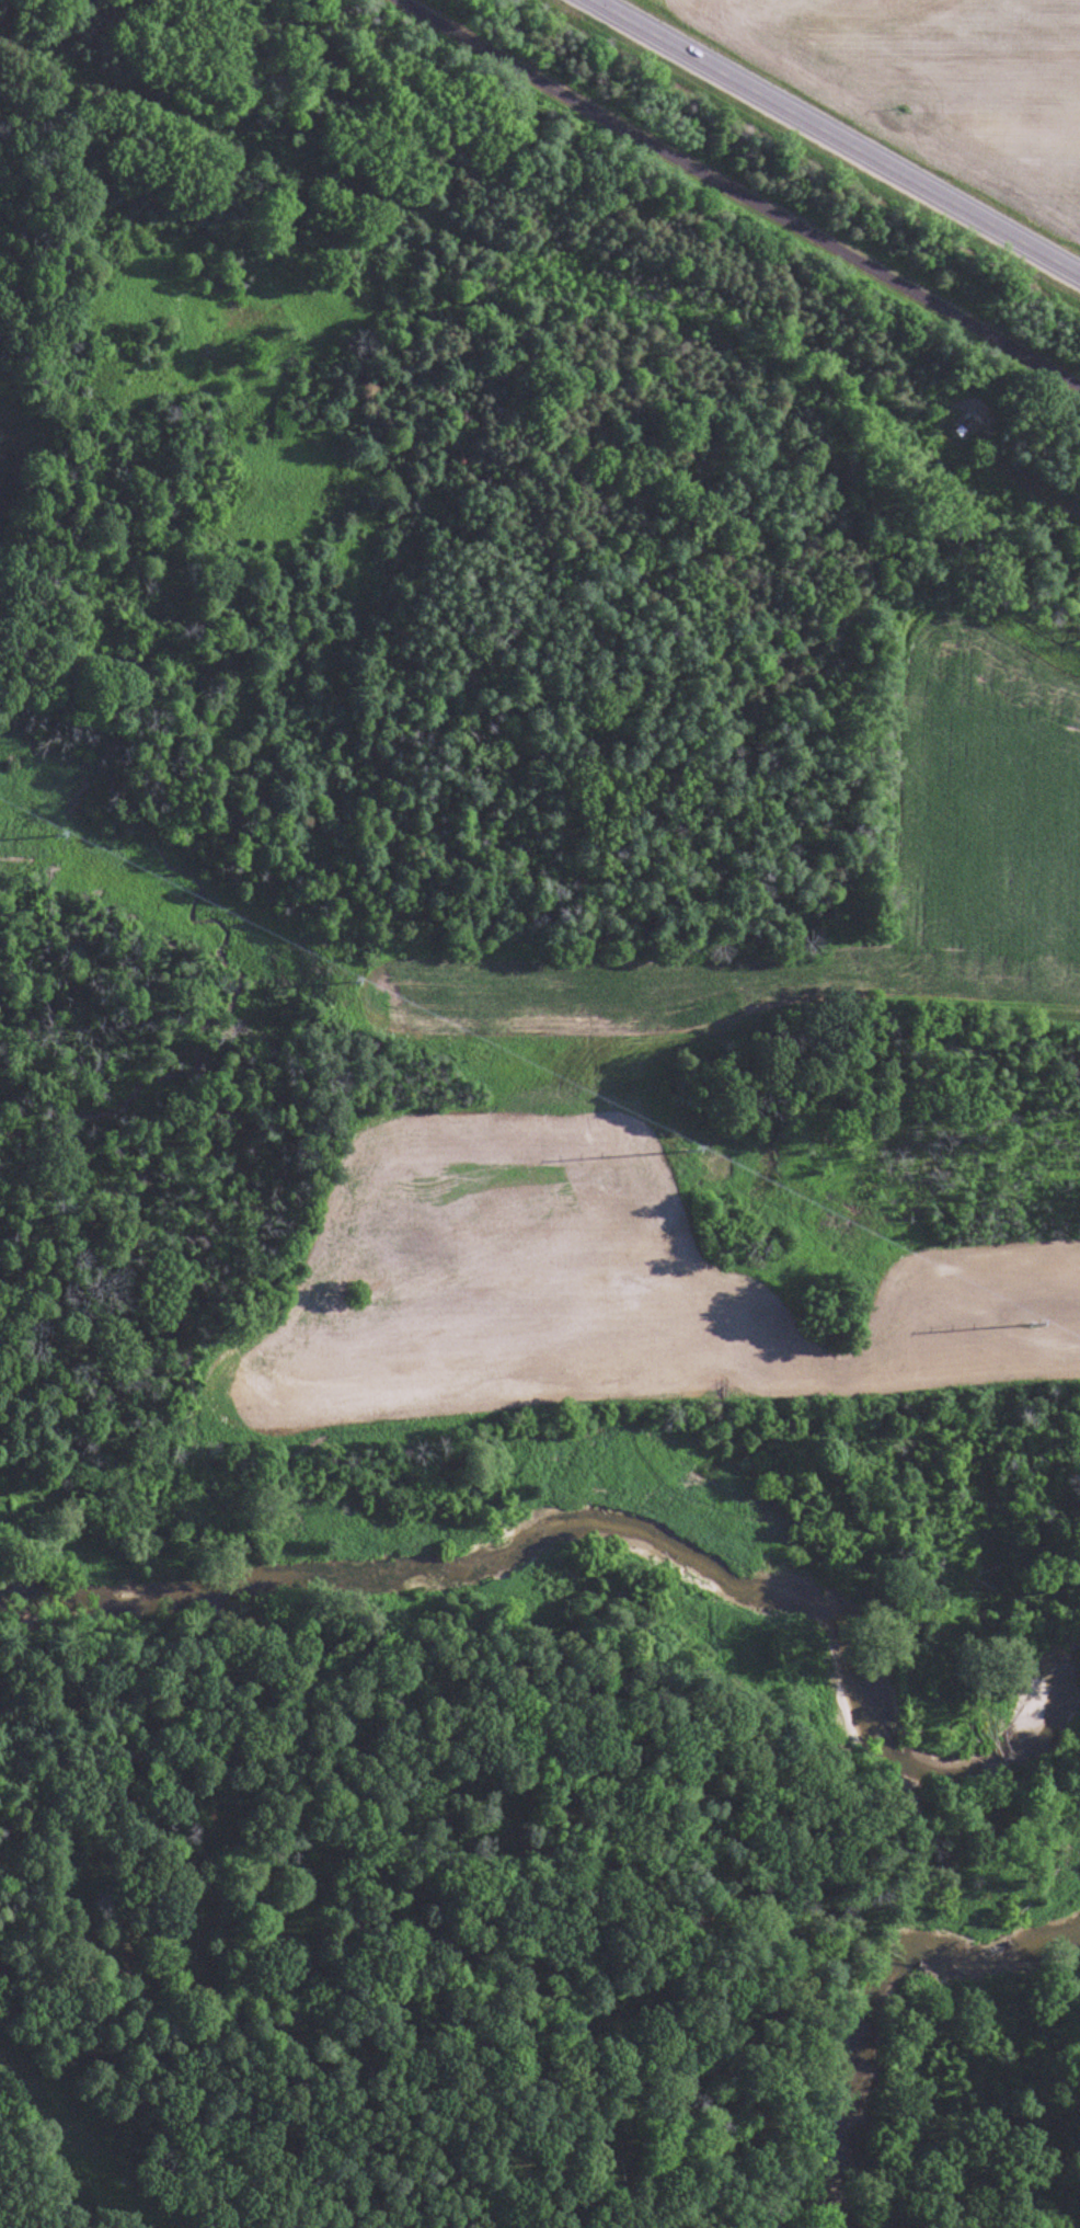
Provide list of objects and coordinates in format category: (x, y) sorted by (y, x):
road: (832, 140)
road: (724, 193)
road: (1031, 478)
power tower: (47, 831)
power tower: (340, 970)
power tower: (686, 1144)
power tower: (1033, 1316)
river: (612, 1545)
river: (881, 1996)

